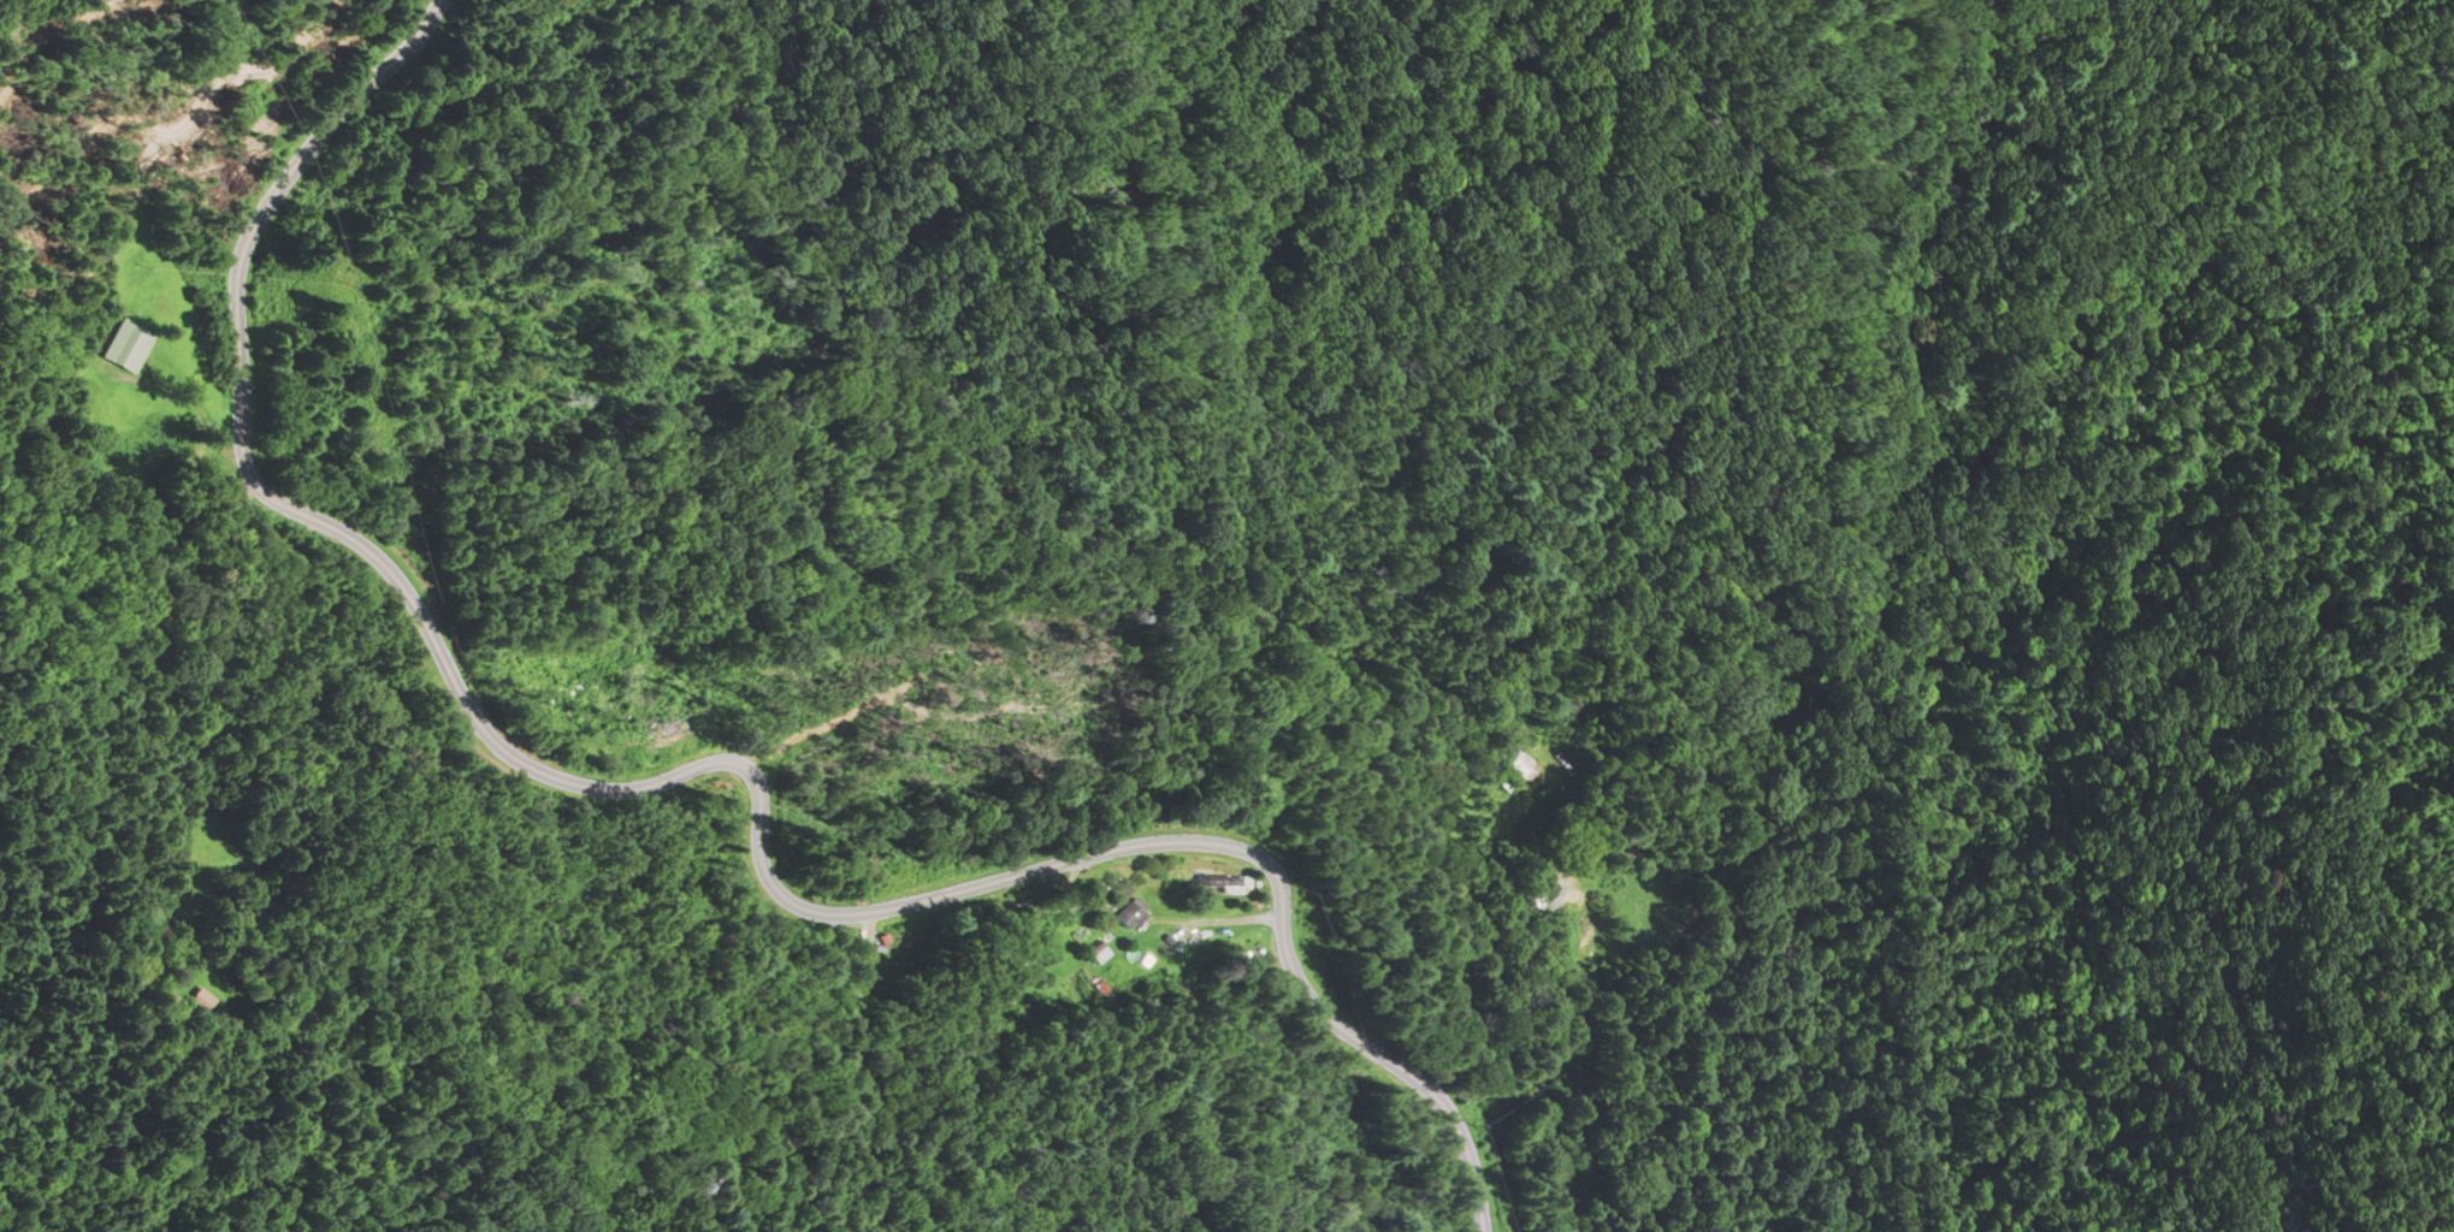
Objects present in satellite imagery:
building: (120, 348)
building: (1519, 768)
road: (679, 778)
building: (1219, 882)
building: (1130, 913)
building: (1098, 953)
building: (1012, 979)

